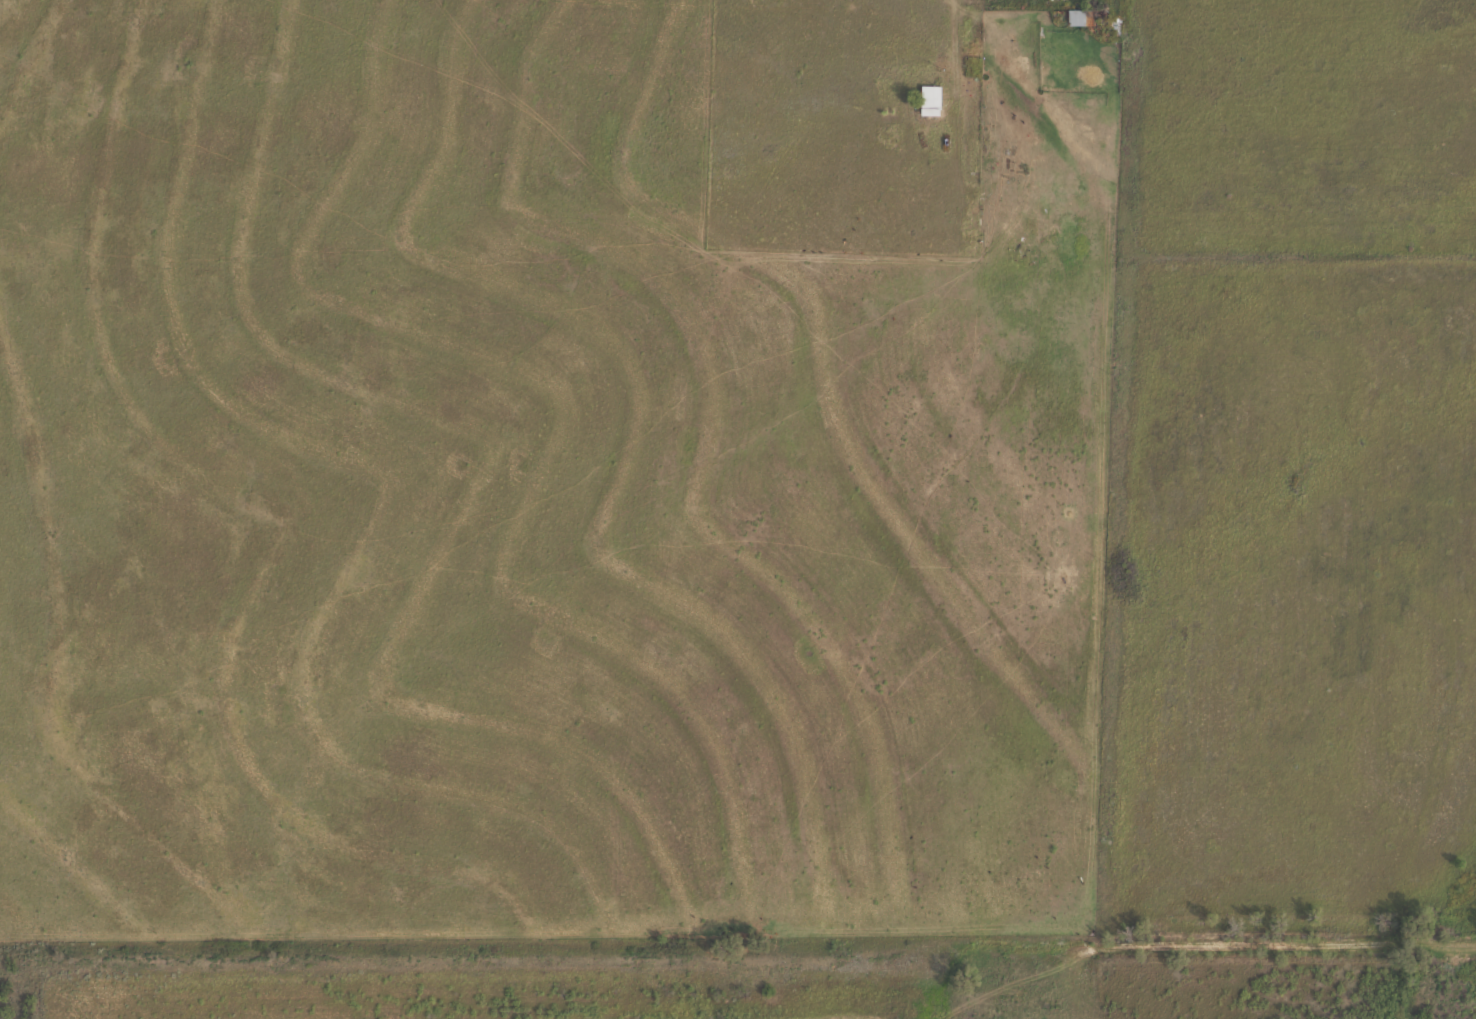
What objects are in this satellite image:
building: (1083, 20)
building: (909, 48)
building: (925, 109)
road: (1289, 943)

